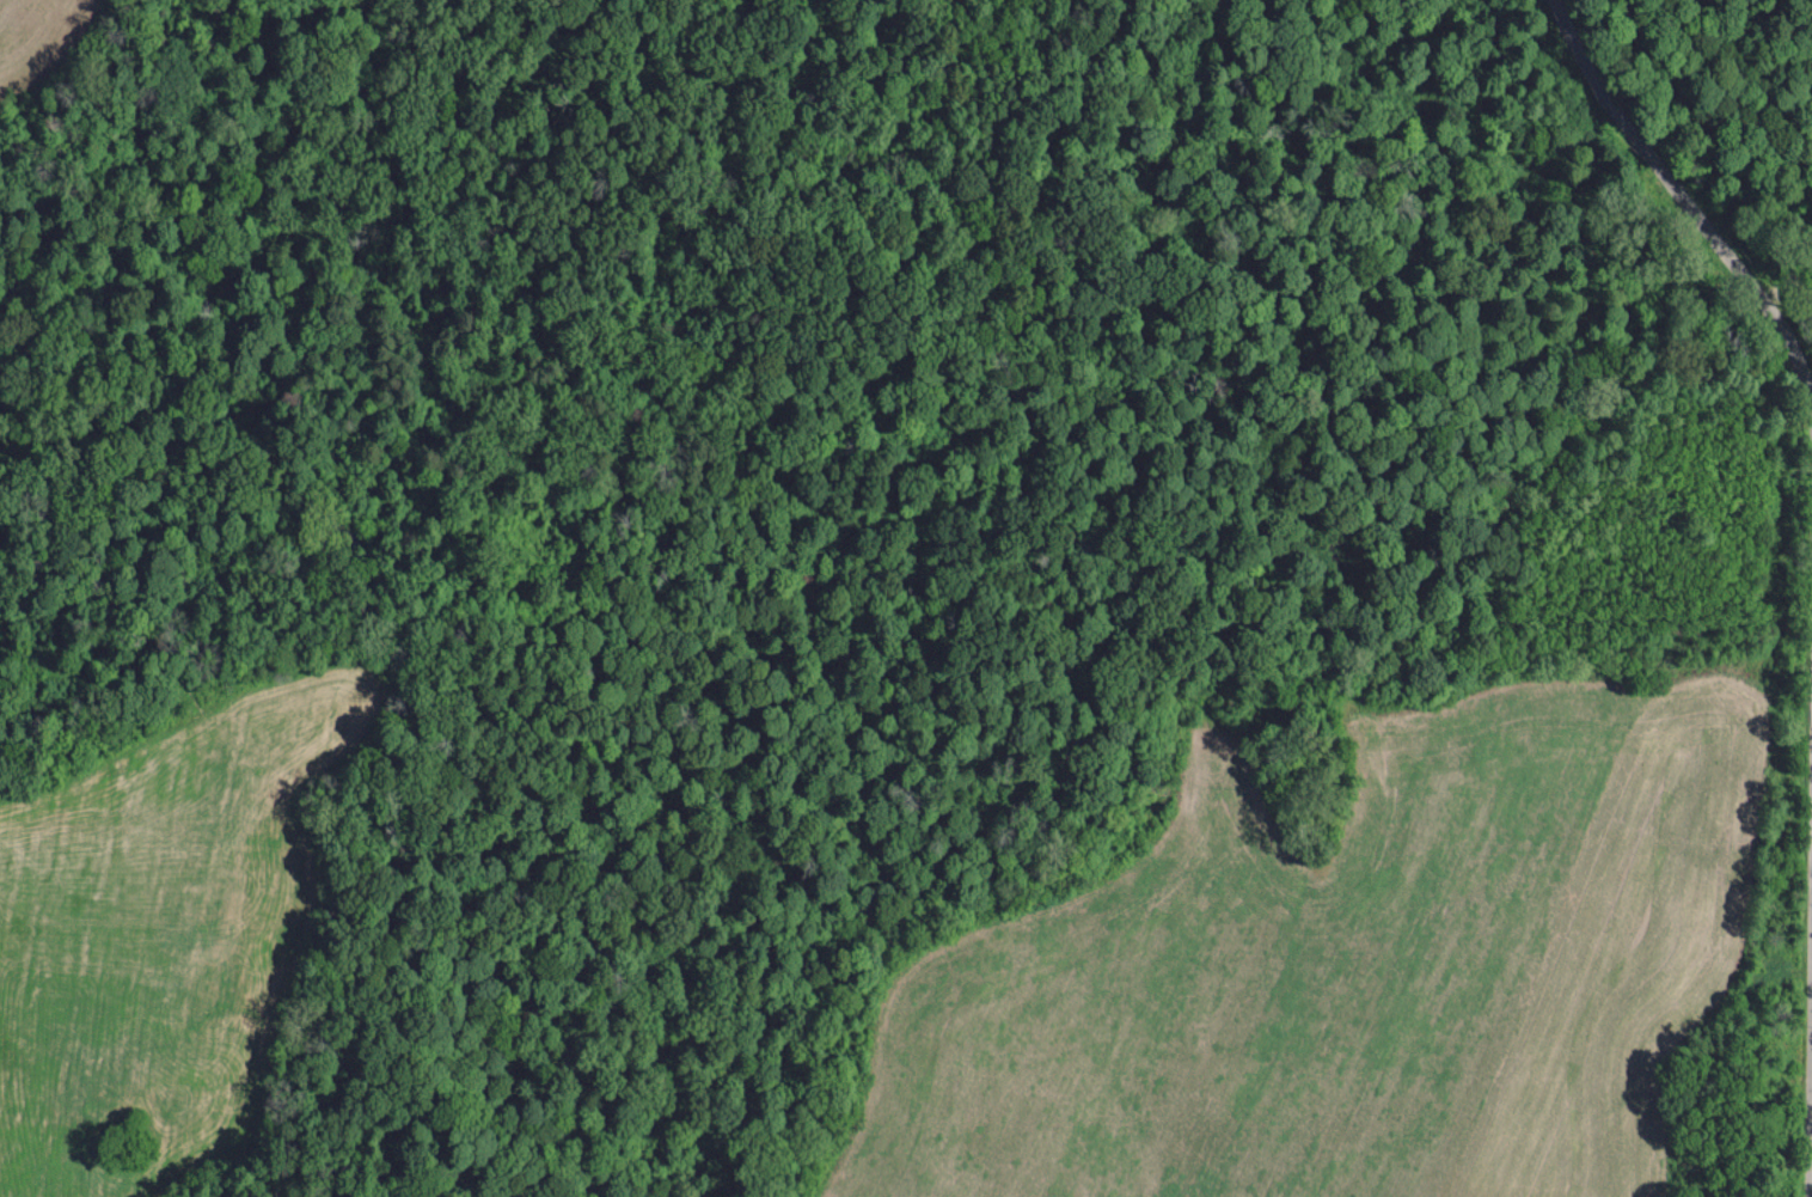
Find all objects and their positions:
road: (1681, 201)
road: (1806, 1006)

